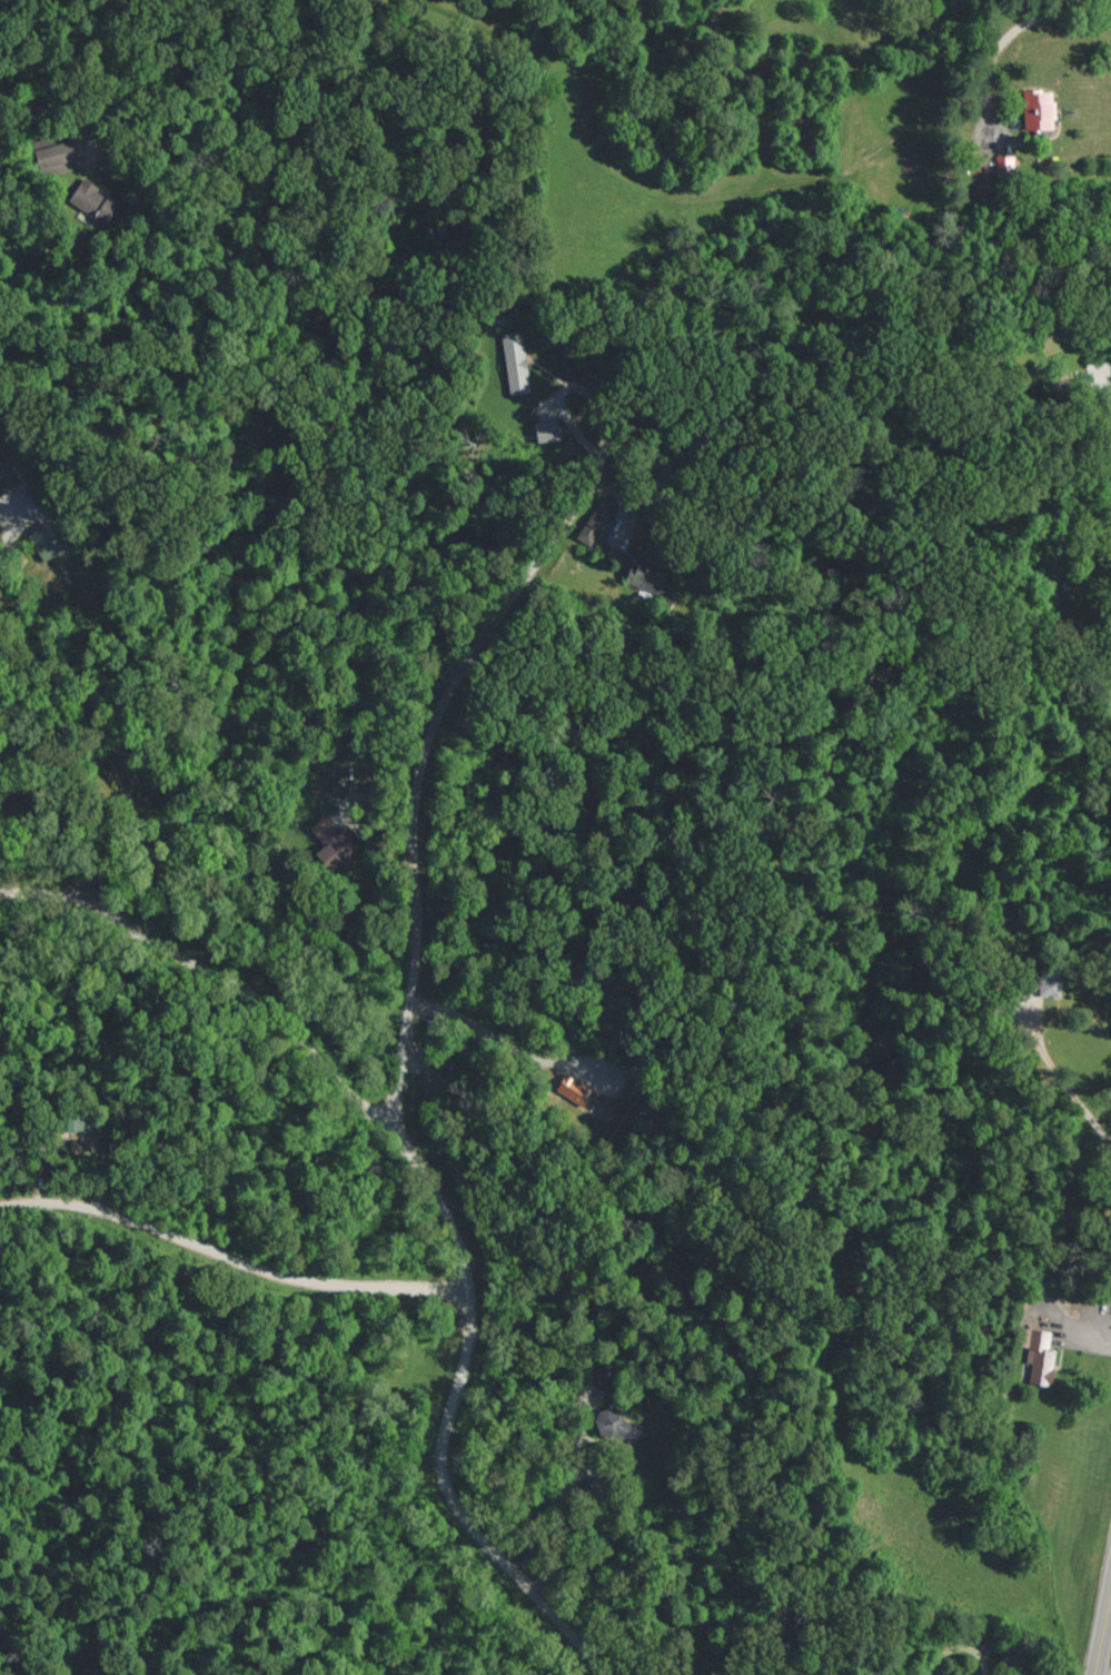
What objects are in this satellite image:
road: (1023, 26)
road: (116, 81)
building: (1038, 109)
building: (53, 153)
building: (979, 179)
building: (91, 199)
building: (515, 361)
building: (545, 429)
road: (13, 517)
building: (595, 522)
building: (44, 543)
building: (645, 573)
road: (103, 745)
road: (420, 760)
building: (330, 842)
building: (1043, 982)
road: (489, 1033)
building: (573, 1089)
road: (1073, 1091)
building: (75, 1122)
road: (430, 1197)
road: (230, 1260)
building: (1038, 1355)
building: (617, 1424)
road: (562, 1519)
road: (1103, 1637)

